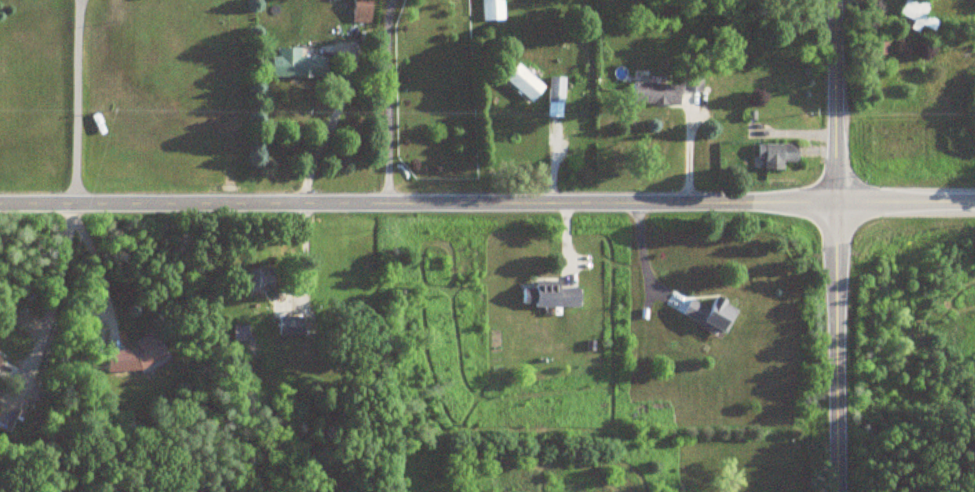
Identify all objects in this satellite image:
building: (490, 10)
building: (358, 11)
building: (916, 14)
building: (877, 44)
building: (294, 67)
building: (690, 81)
building: (520, 84)
building: (554, 90)
building: (652, 94)
road: (385, 101)
road: (834, 101)
road: (75, 102)
road: (329, 122)
road: (687, 150)
building: (773, 156)
road: (487, 204)
road: (300, 257)
road: (642, 258)
road: (98, 266)
building: (256, 279)
road: (54, 292)
building: (547, 296)
building: (706, 315)
building: (287, 327)
building: (238, 334)
road: (835, 347)
building: (131, 356)

